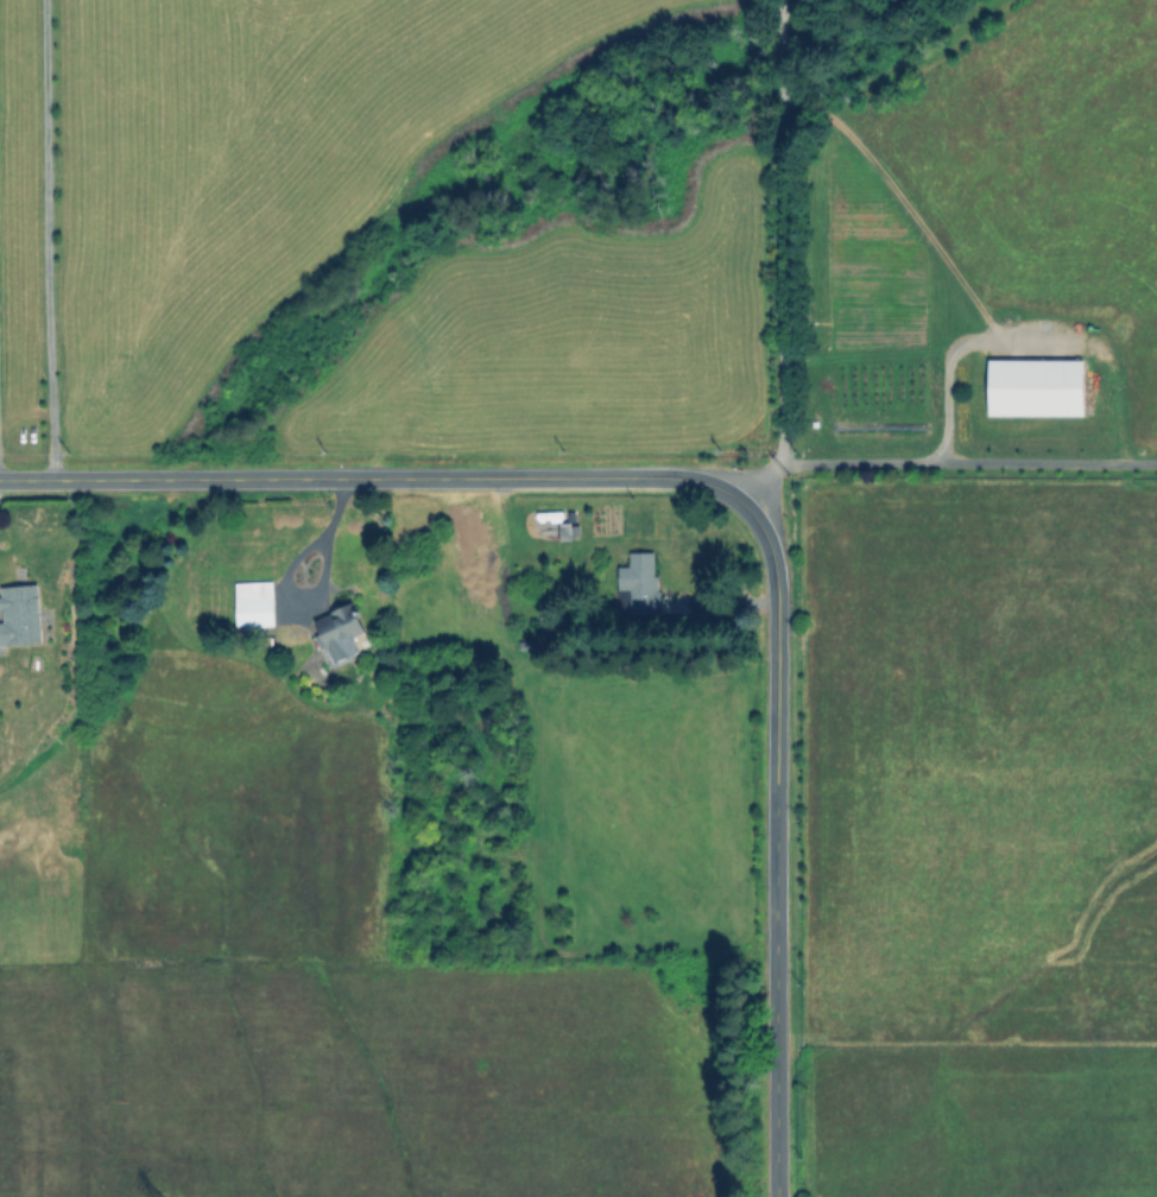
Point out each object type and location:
road: (903, 203)
road: (780, 233)
road: (45, 239)
road: (954, 348)
building: (1033, 386)
road: (919, 463)
road: (380, 480)
building: (567, 530)
building: (637, 583)
road: (312, 589)
building: (253, 603)
building: (19, 614)
building: (337, 633)
road: (776, 850)

